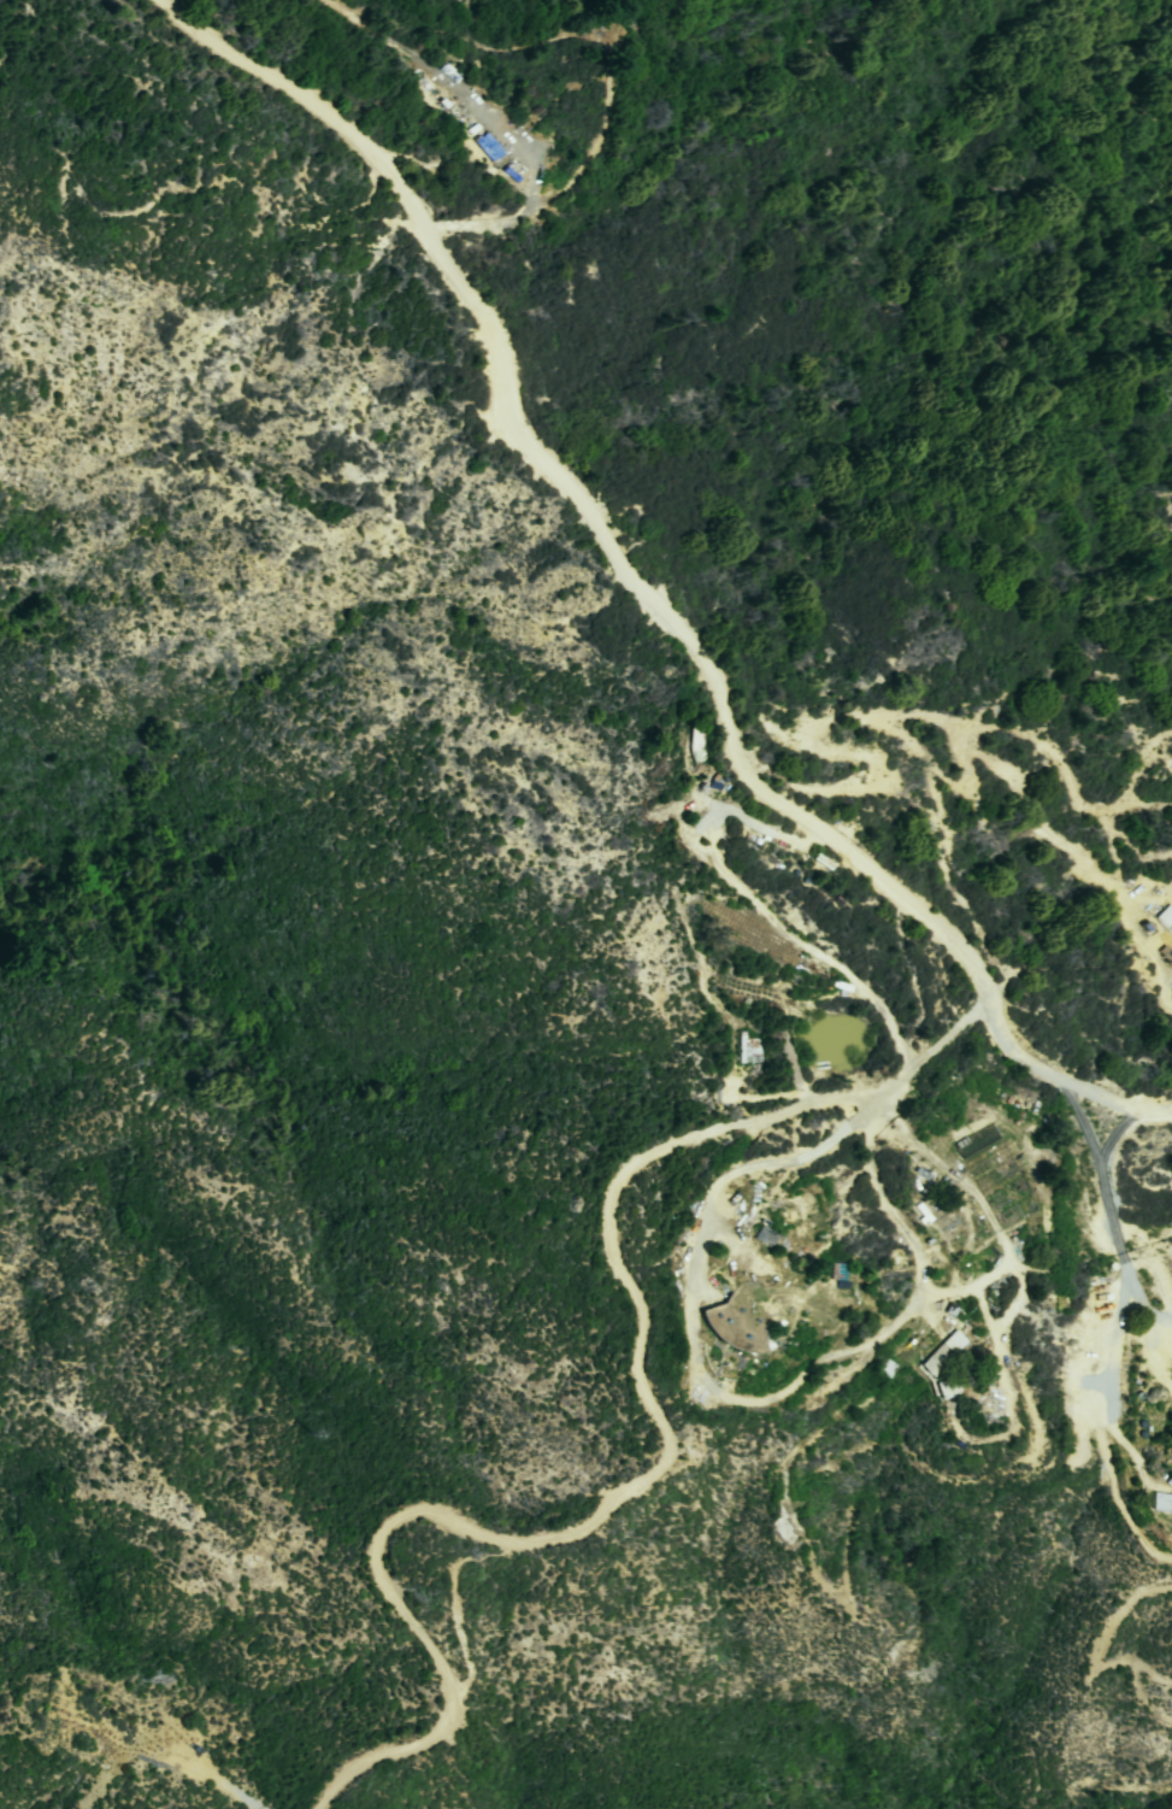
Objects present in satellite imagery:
road: (458, 36)
road: (464, 102)
road: (571, 177)
road: (638, 589)
road: (977, 758)
road: (1135, 770)
road: (754, 905)
building: (1164, 918)
road: (1167, 992)
road: (1117, 1239)
building: (740, 1318)
road: (1161, 1320)
building: (941, 1352)
road: (1113, 1379)
road: (728, 1399)
road: (665, 1447)
building: (1160, 1502)
road: (78, 1714)
road: (93, 1792)
road: (237, 1797)

